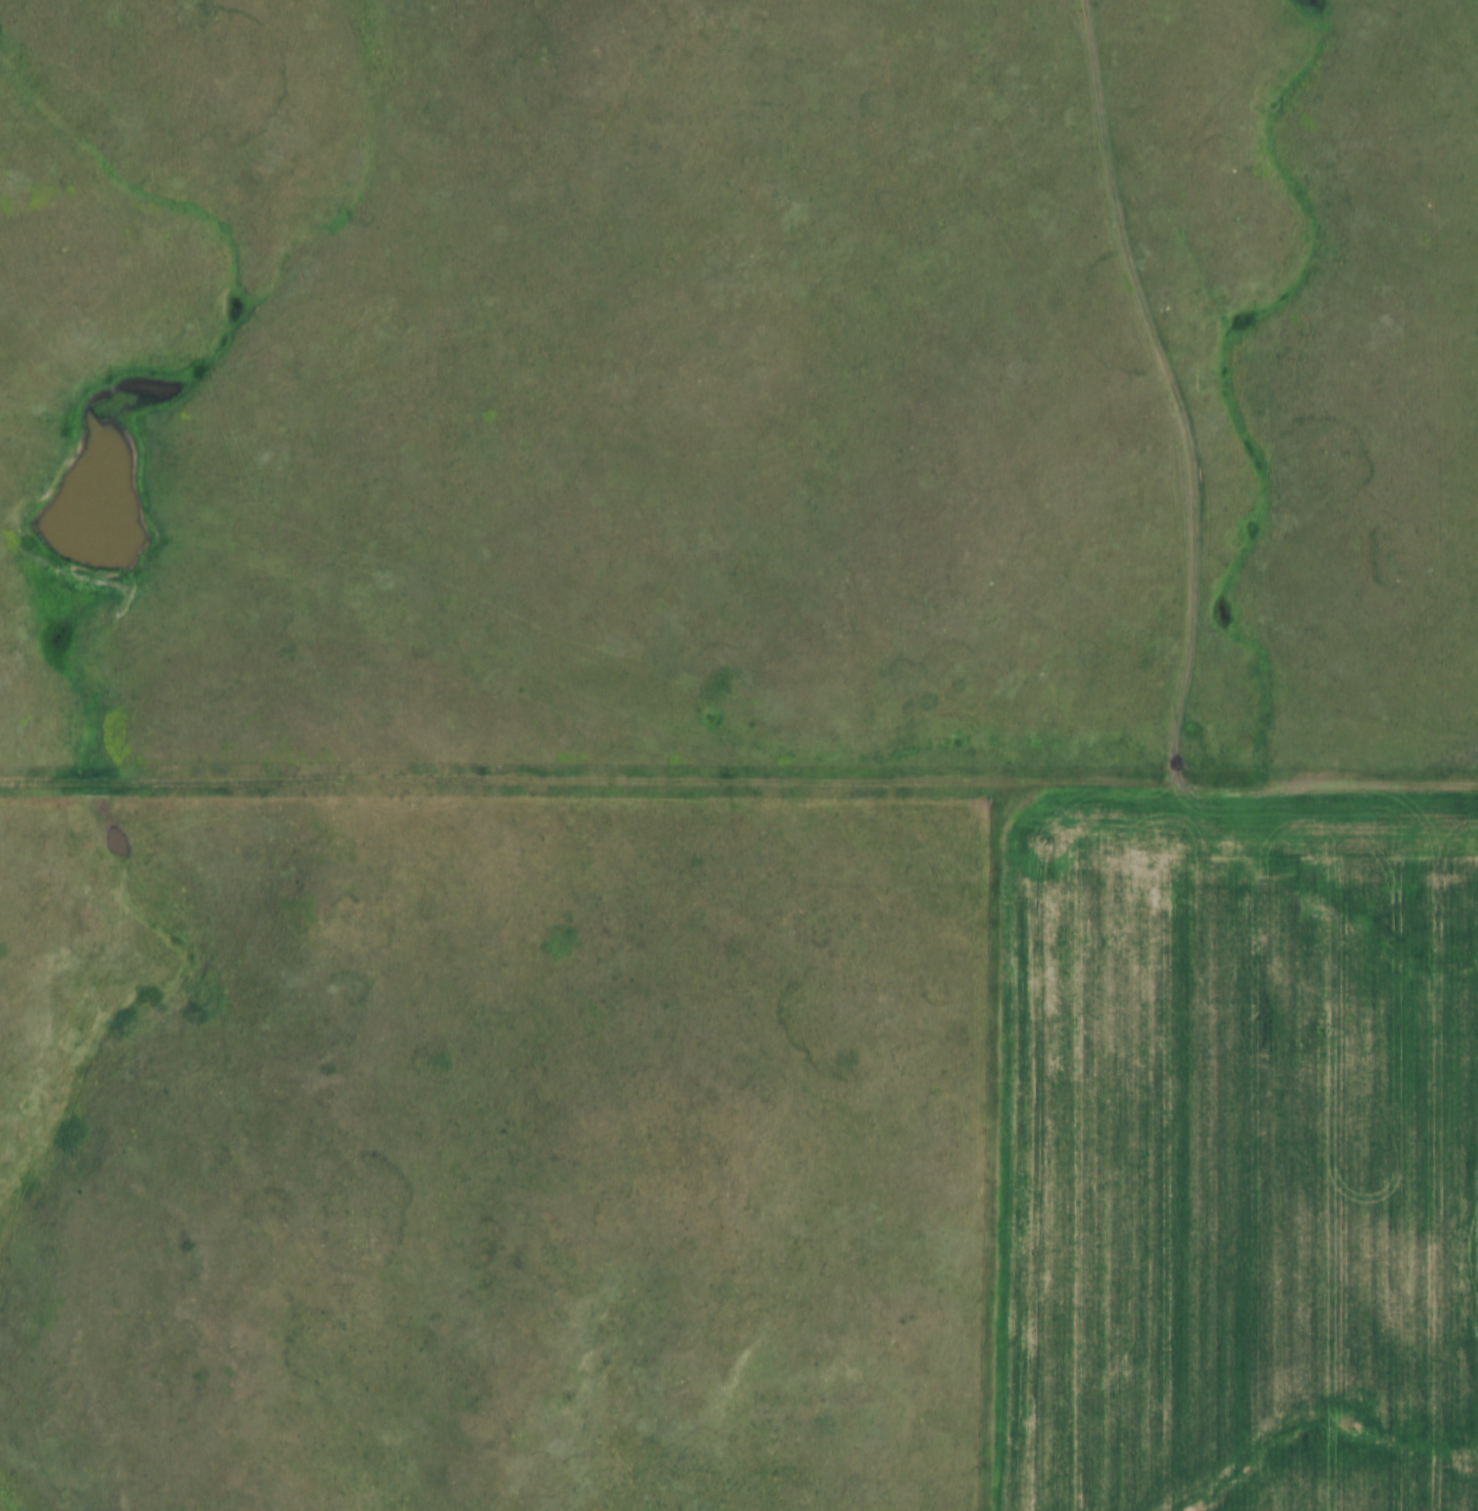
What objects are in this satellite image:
road: (1171, 388)
road: (739, 785)

